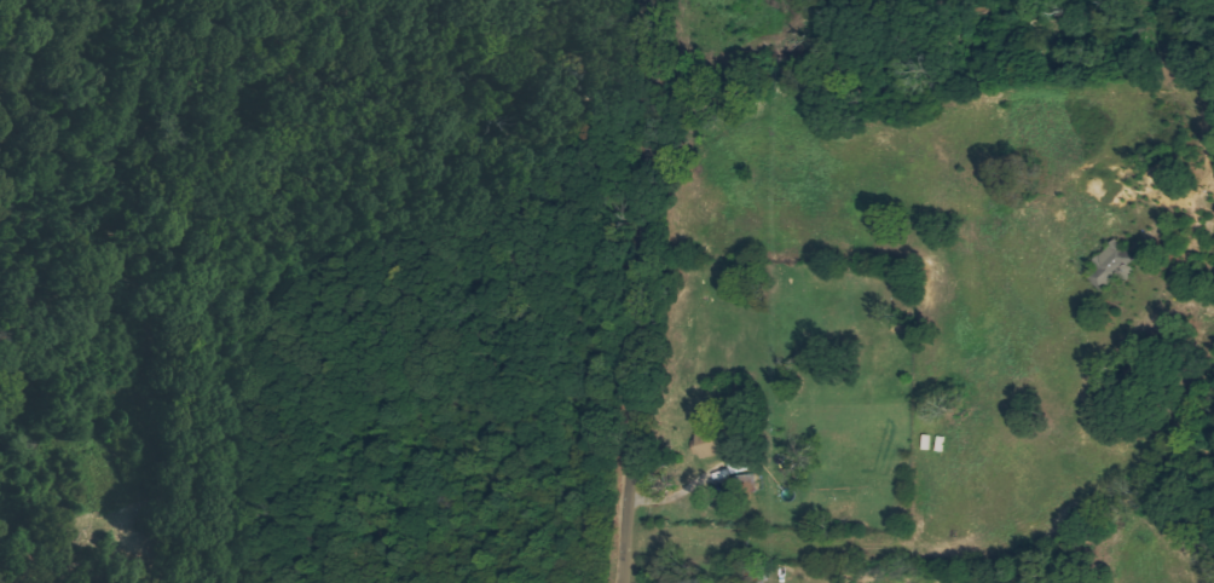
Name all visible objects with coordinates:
building: (1115, 265)
road: (630, 291)

